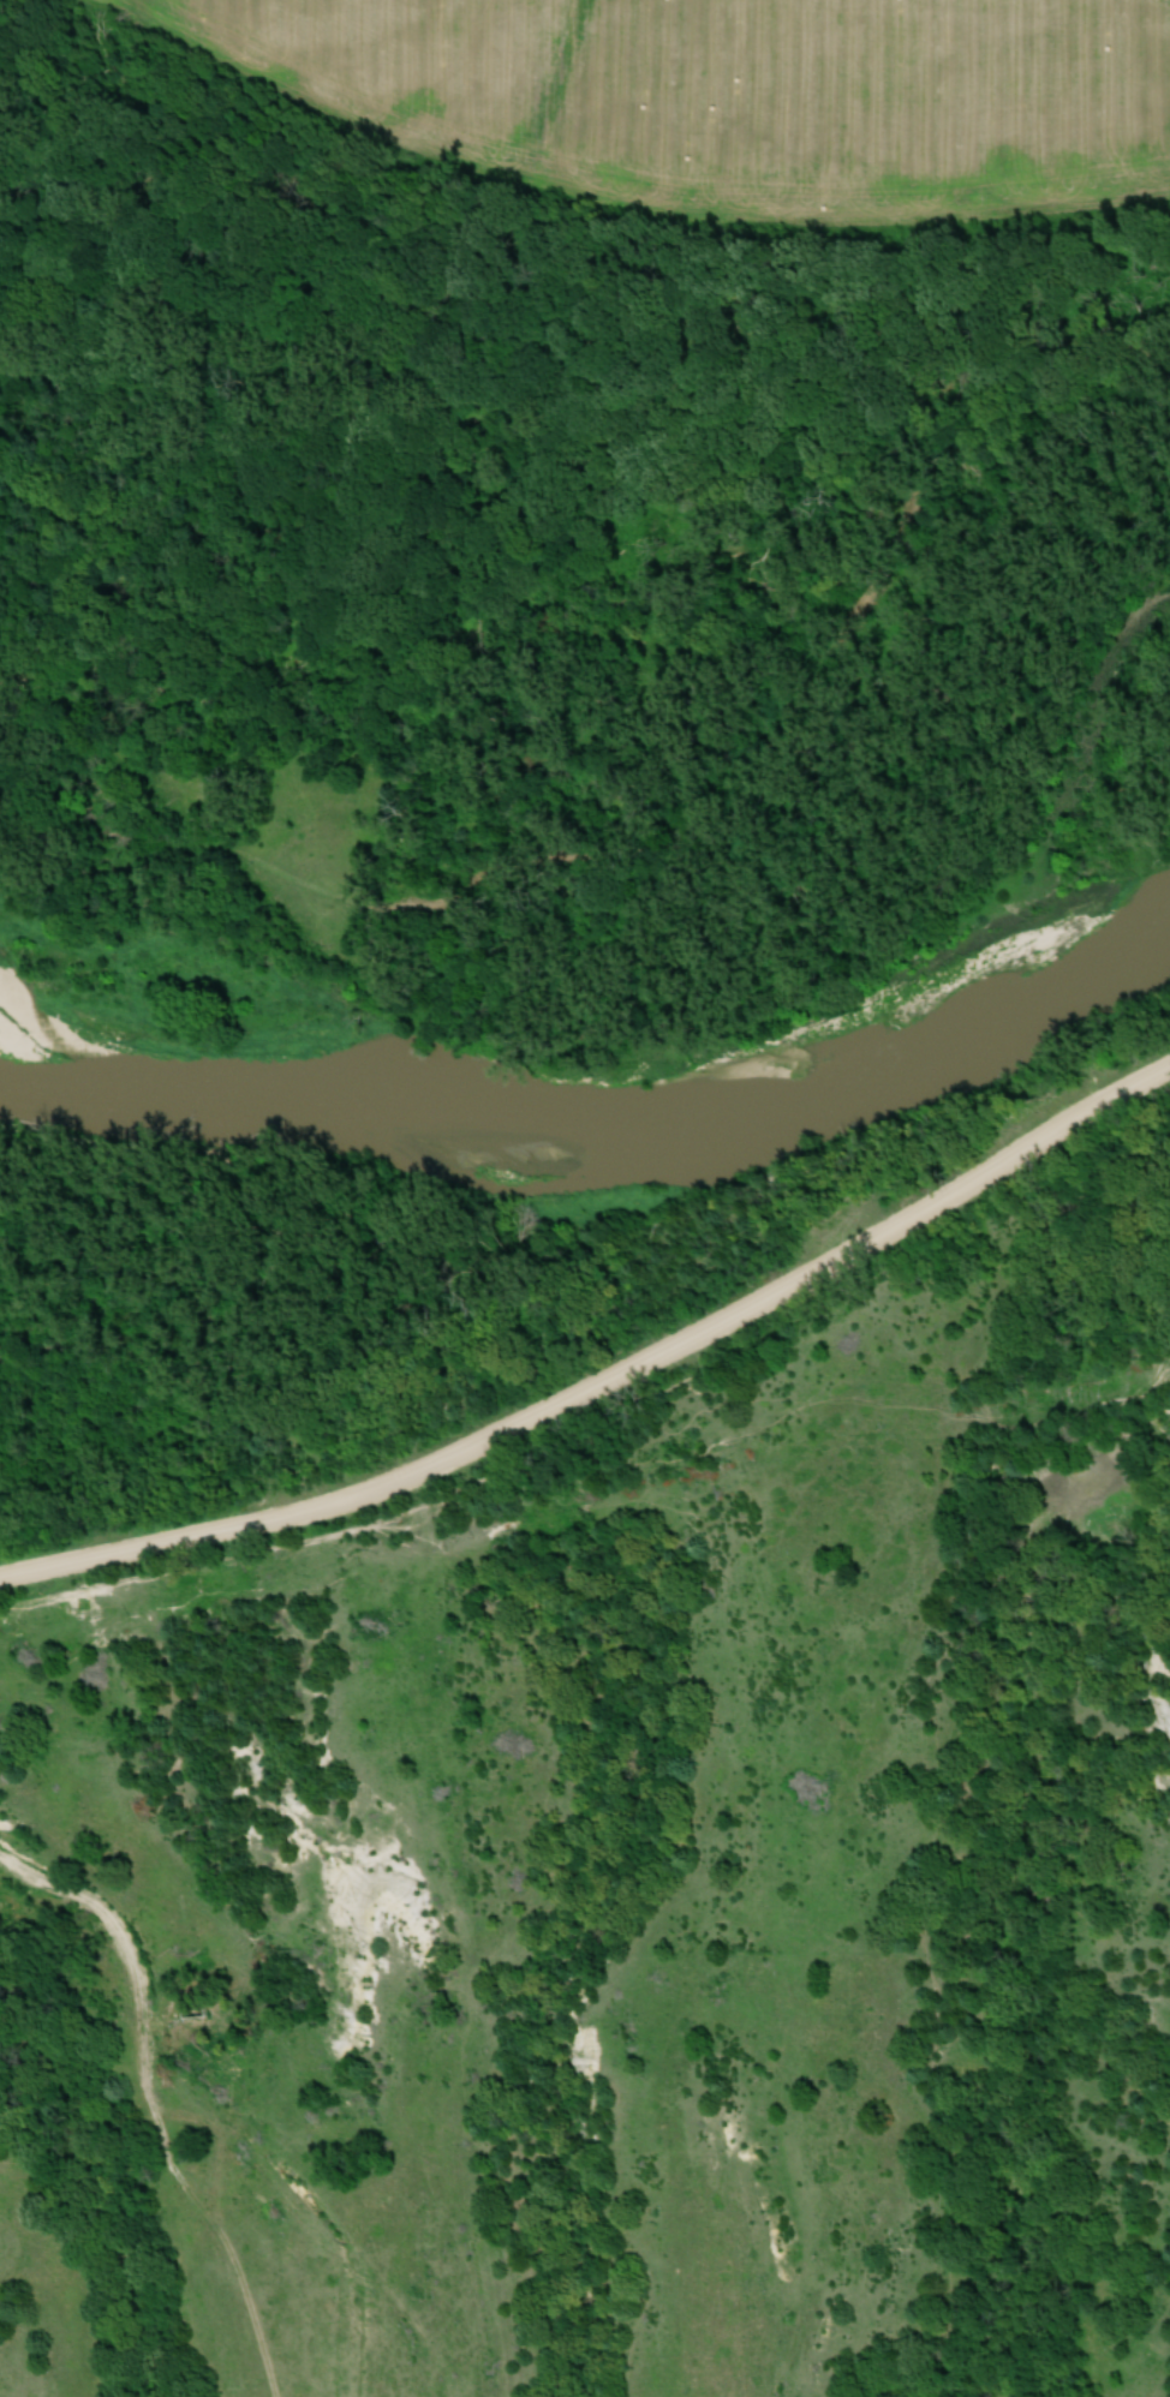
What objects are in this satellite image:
river: (603, 1119)
road: (607, 1382)

